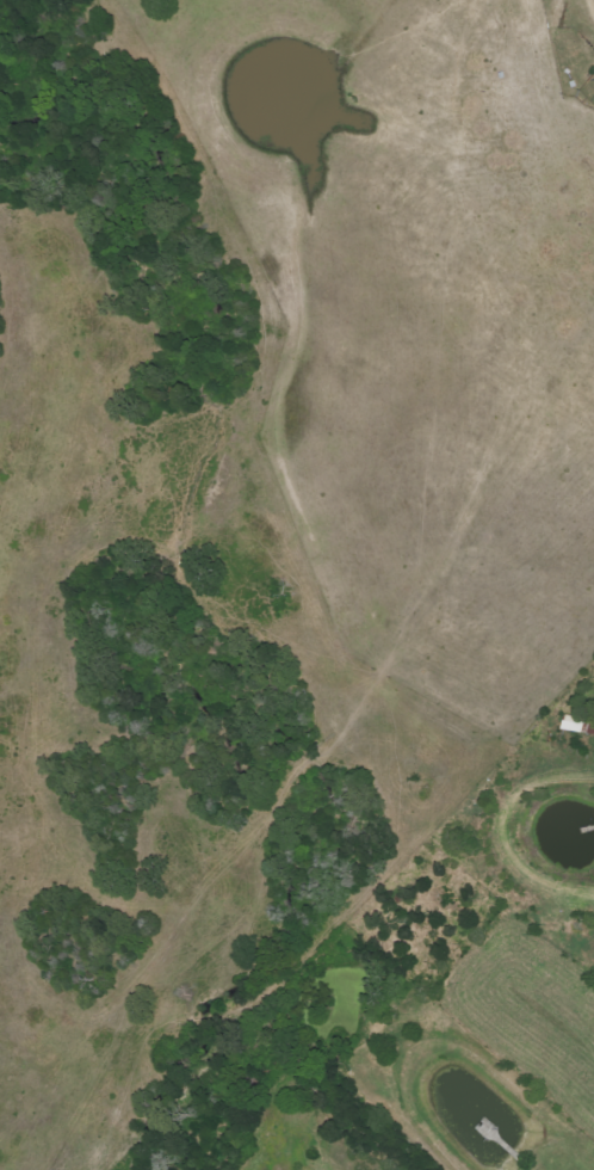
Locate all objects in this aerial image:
building: (576, 725)
building: (593, 729)

